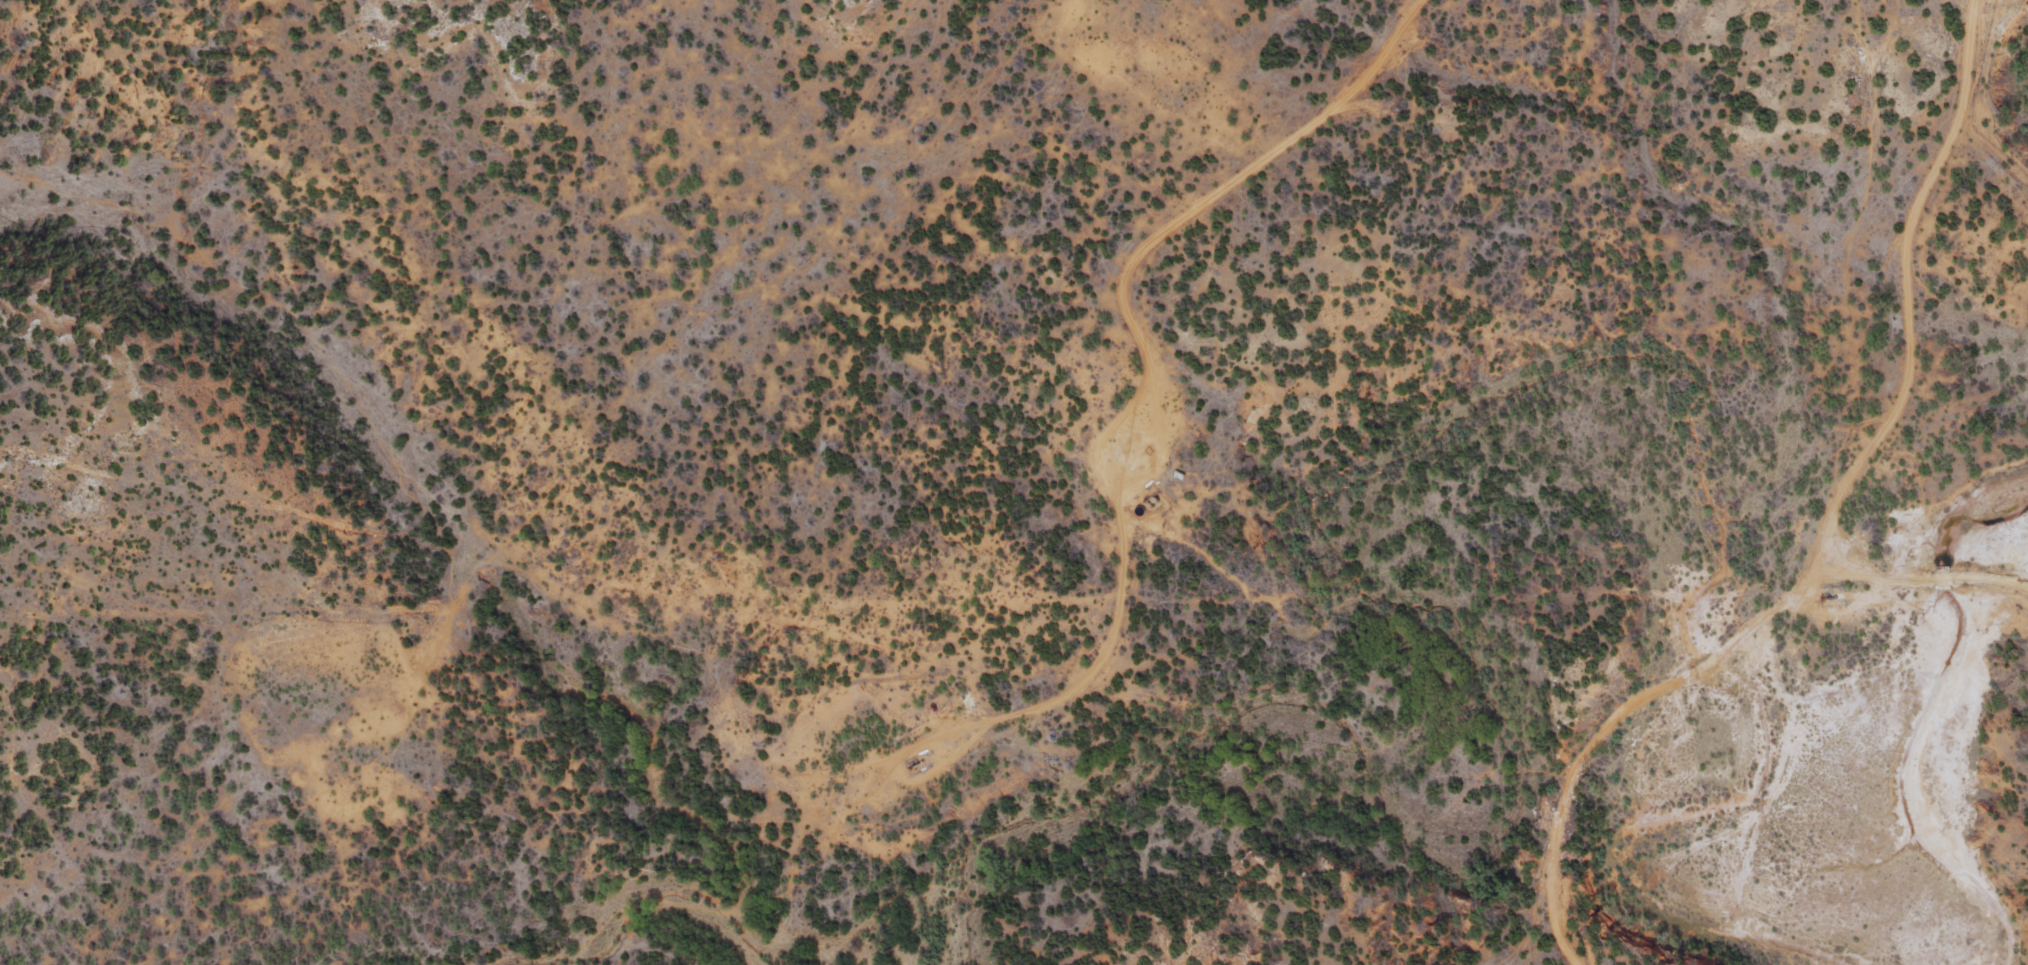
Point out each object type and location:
road: (1890, 375)

